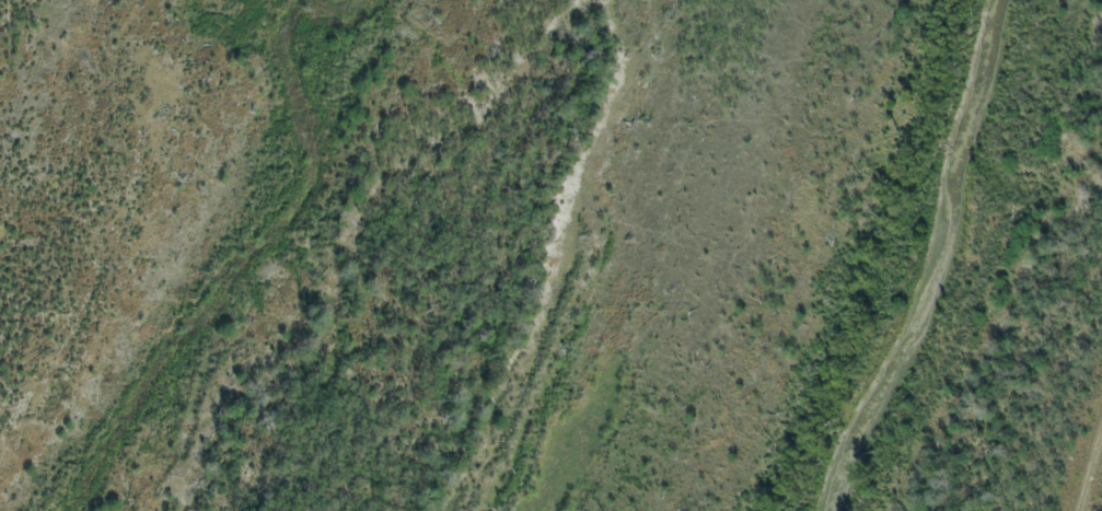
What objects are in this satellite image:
river: (940, 262)
road: (1053, 358)

